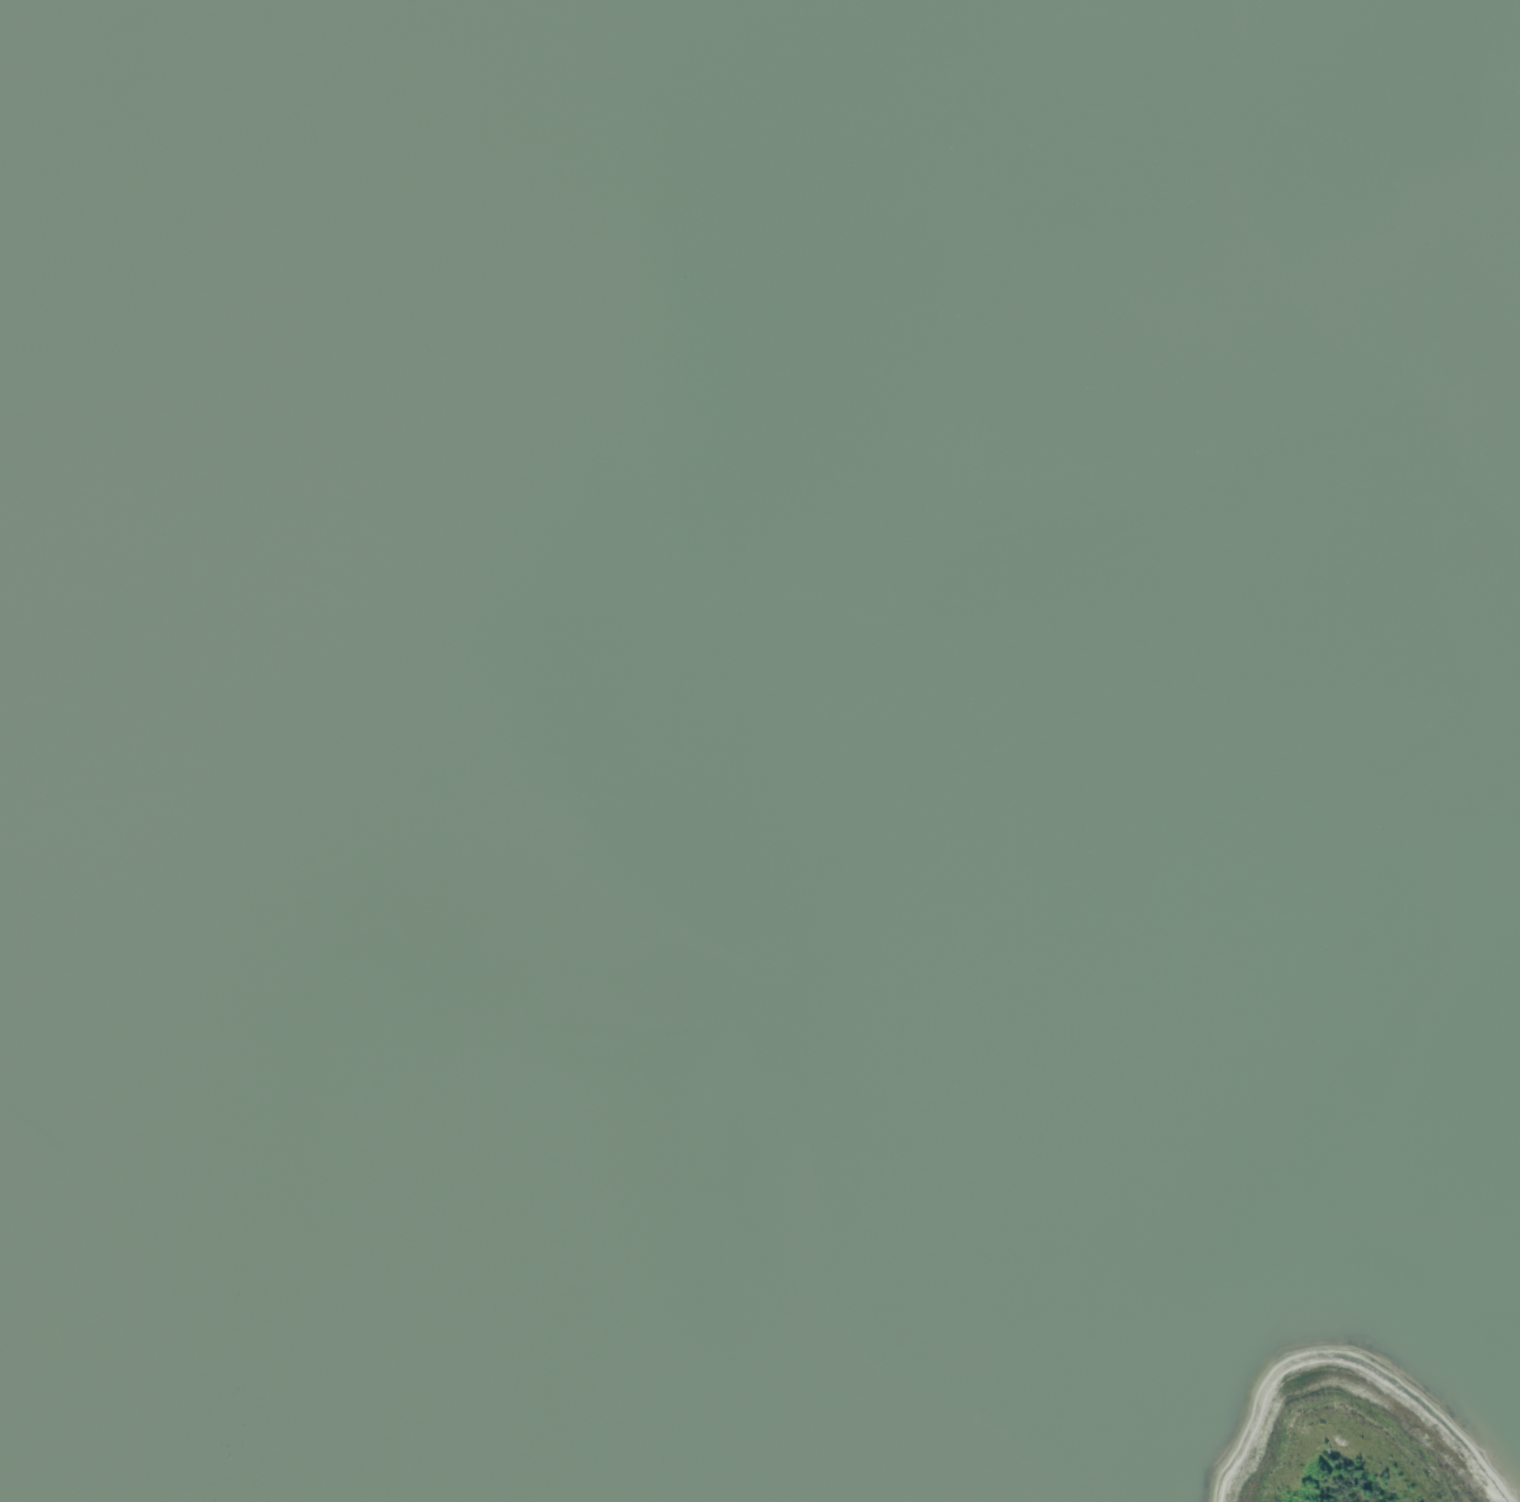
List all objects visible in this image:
building: (963, 327)
building: (982, 399)

